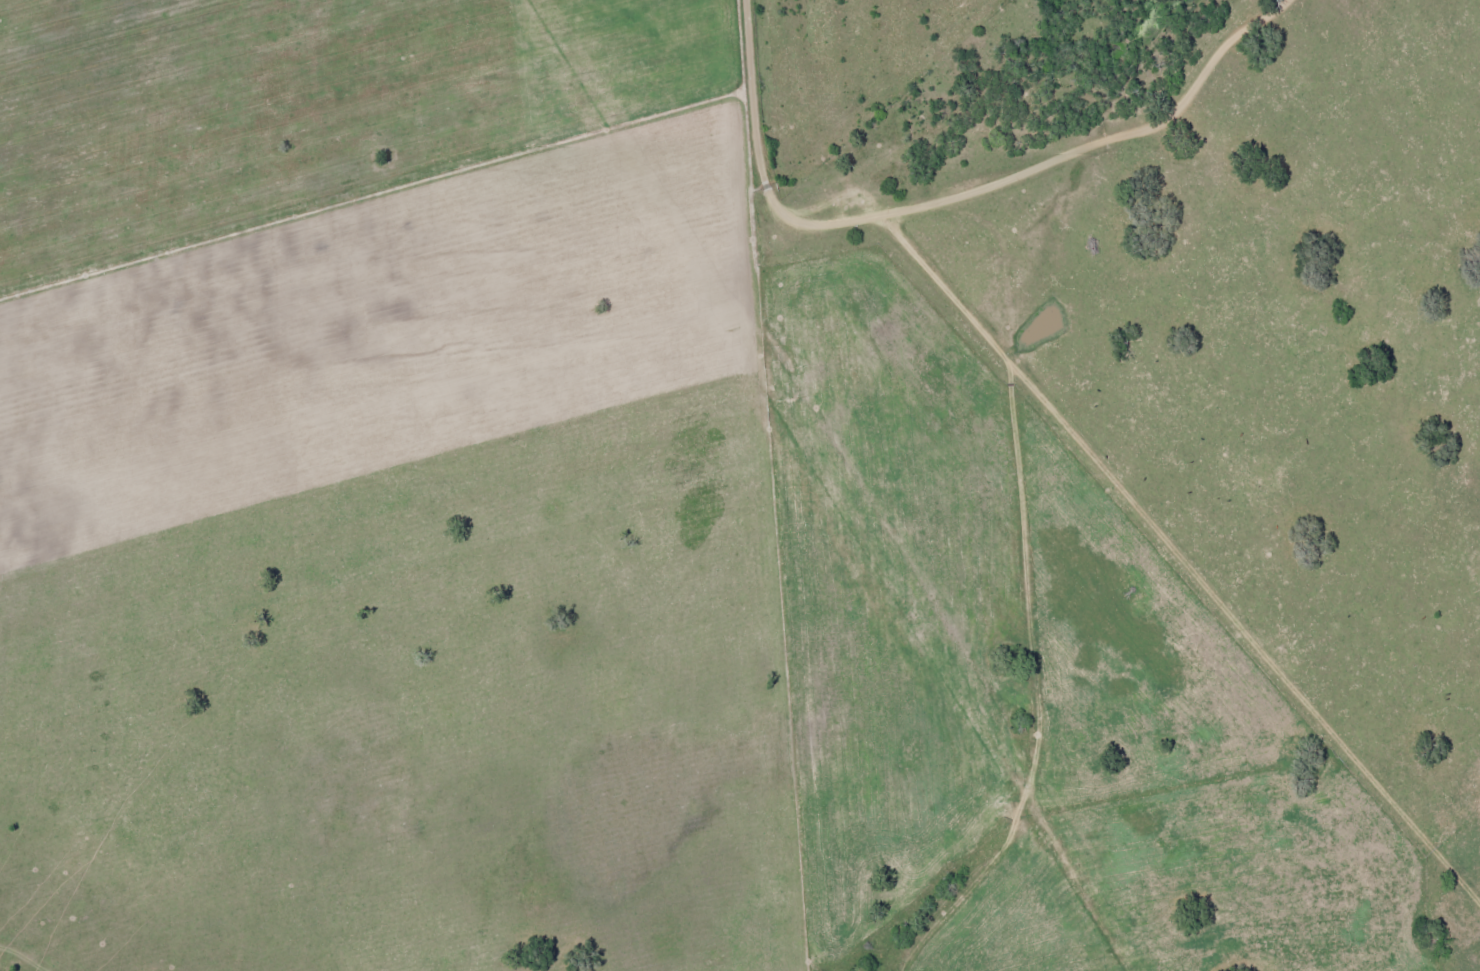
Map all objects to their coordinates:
road: (758, 92)
road: (1025, 104)
road: (1141, 553)
road: (1050, 736)

